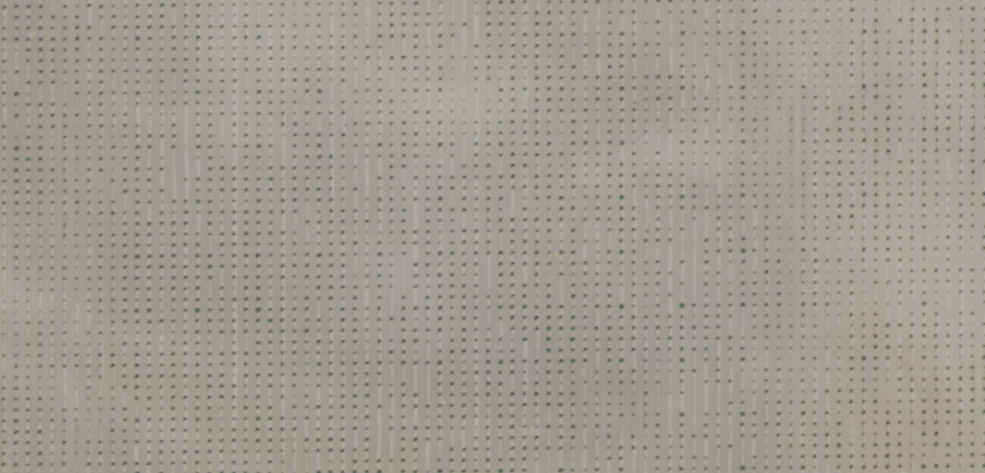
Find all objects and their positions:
crop: (492, 236)

